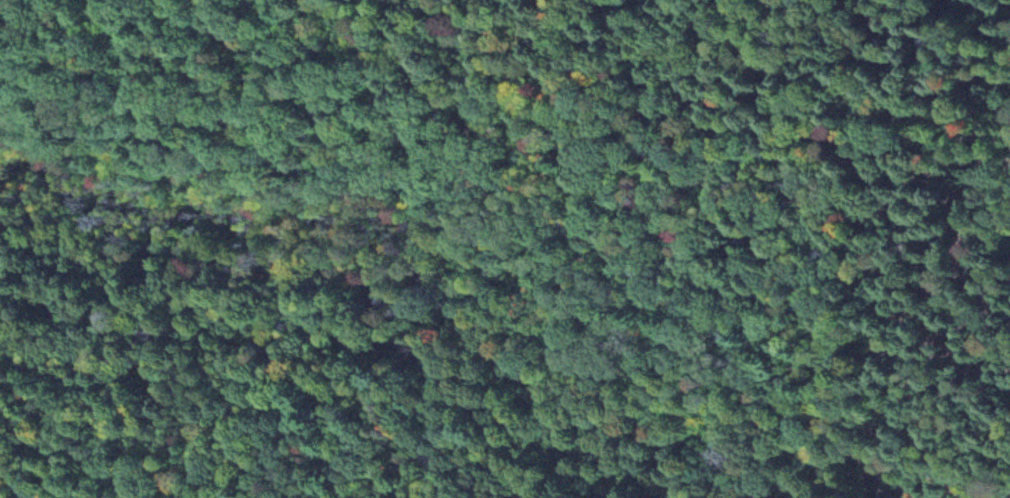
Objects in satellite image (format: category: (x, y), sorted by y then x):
road: (502, 142)

